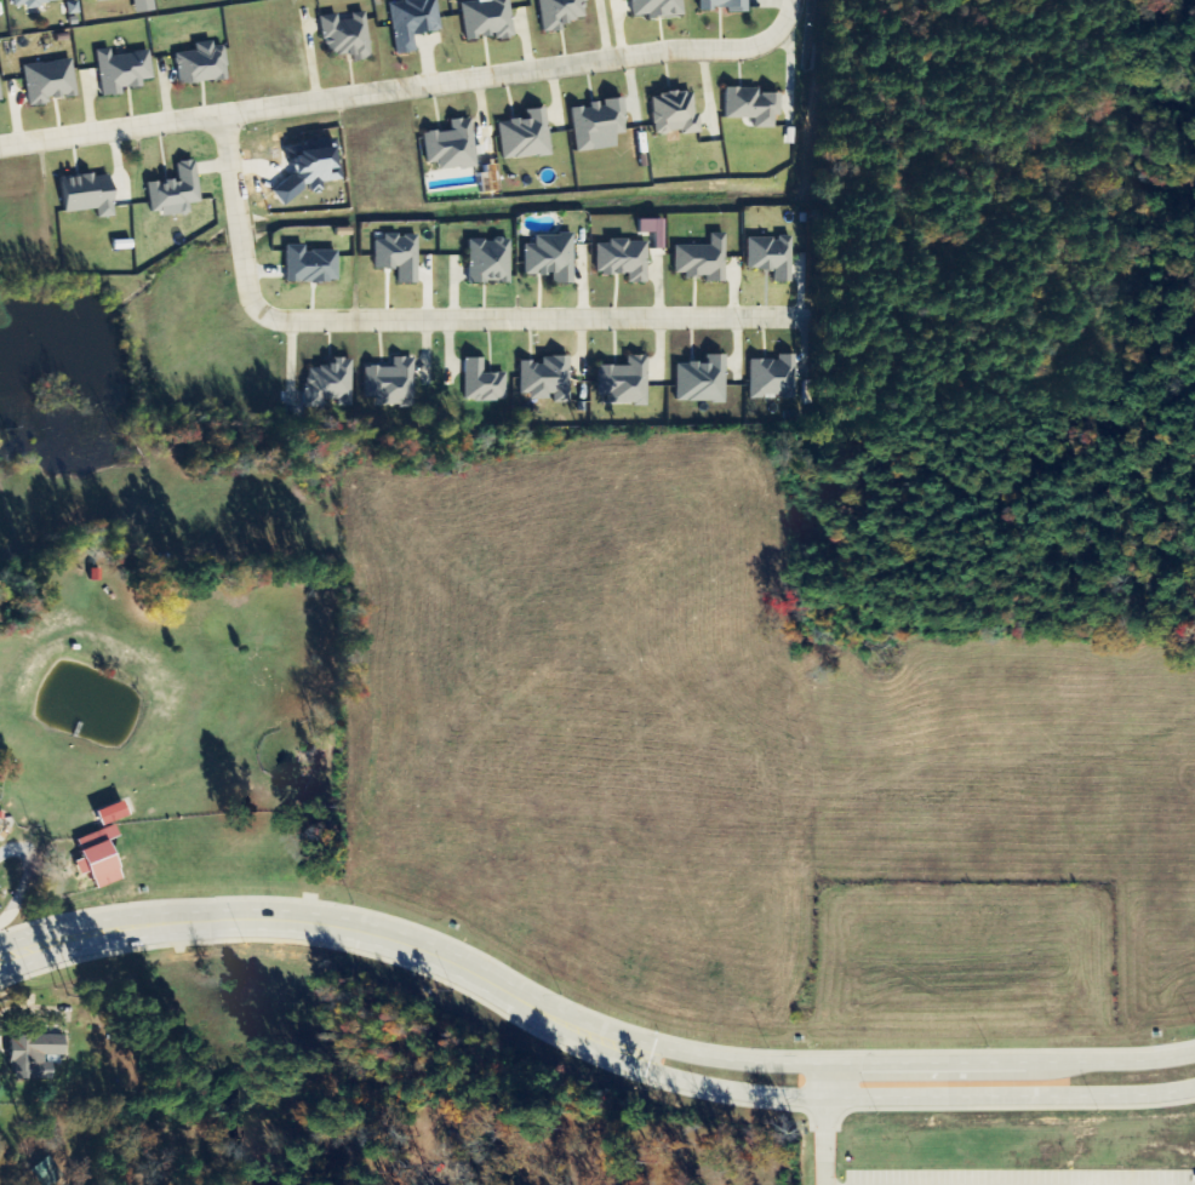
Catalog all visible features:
building: (92, 0)
building: (34, 2)
building: (726, 5)
building: (143, 6)
building: (657, 8)
building: (561, 12)
road: (785, 16)
building: (487, 18)
building: (413, 22)
building: (345, 36)
building: (202, 64)
building: (122, 70)
building: (48, 81)
road: (389, 87)
building: (0, 96)
building: (754, 105)
building: (674, 113)
building: (597, 125)
building: (525, 136)
building: (452, 145)
building: (310, 173)
building: (176, 191)
building: (90, 194)
building: (653, 230)
building: (399, 256)
building: (551, 257)
building: (773, 257)
building: (623, 259)
building: (702, 259)
building: (490, 261)
building: (310, 265)
road: (428, 316)
building: (776, 377)
building: (547, 379)
building: (702, 380)
building: (484, 382)
building: (625, 382)
building: (330, 383)
building: (391, 383)
building: (113, 814)
building: (101, 857)
road: (587, 1021)
road: (585, 1047)
building: (35, 1055)
road: (818, 1123)
building: (53, 1172)
parking lot: (1020, 1175)

